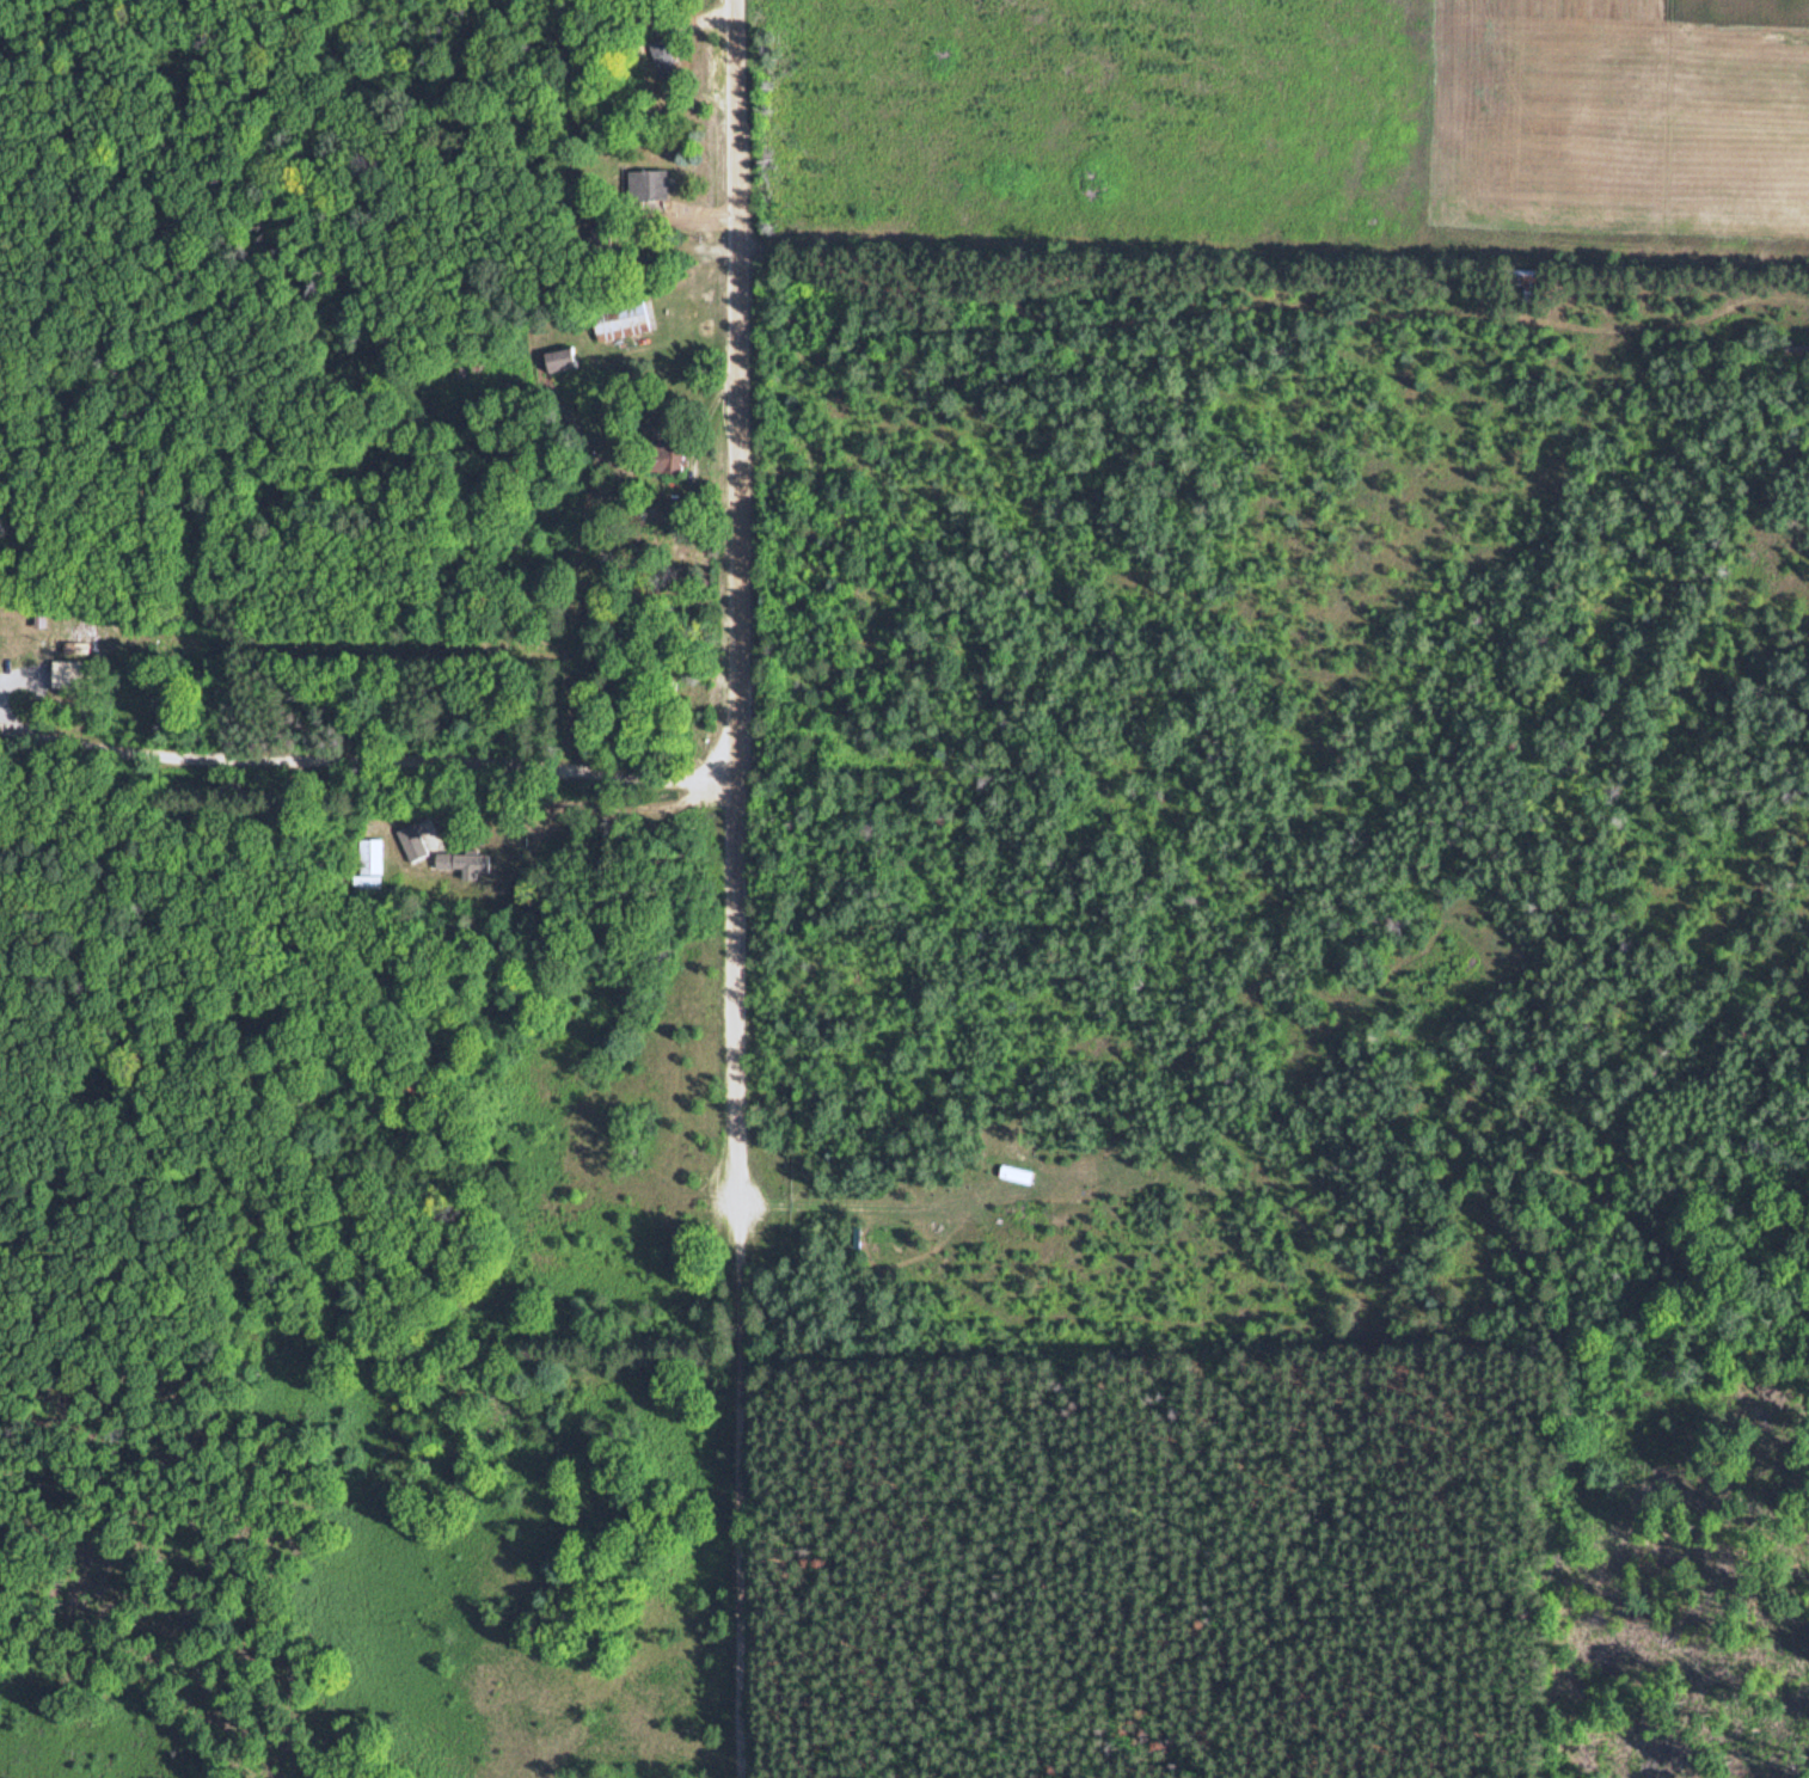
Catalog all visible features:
building: (667, 56)
building: (651, 185)
building: (1537, 281)
building: (624, 318)
building: (564, 360)
building: (674, 459)
road: (728, 607)
building: (73, 674)
road: (362, 756)
building: (415, 841)
building: (468, 863)
building: (370, 864)
road: (735, 1496)

